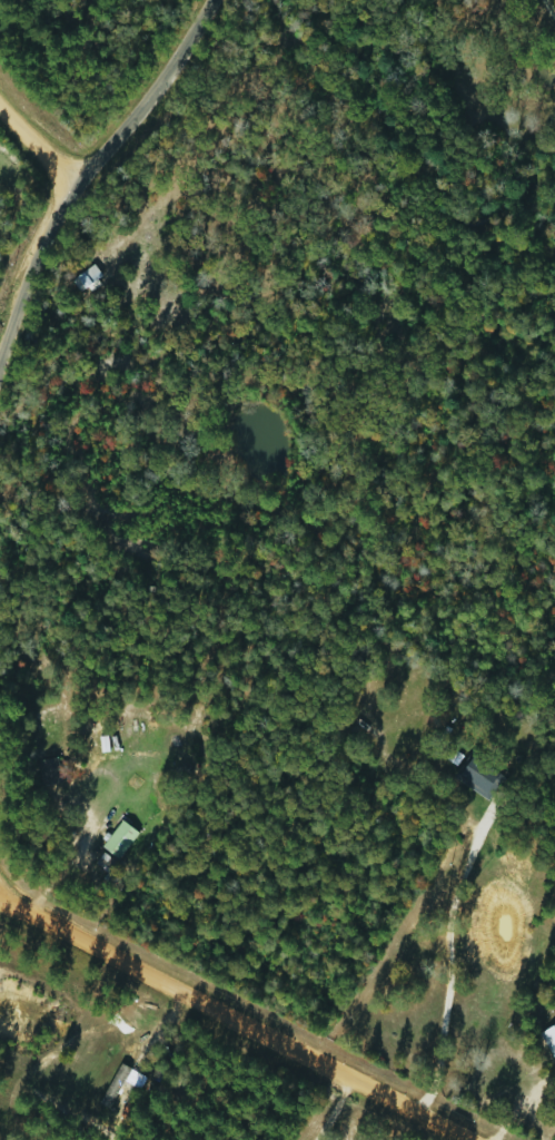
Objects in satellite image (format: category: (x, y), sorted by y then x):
road: (33, 140)
road: (75, 167)
building: (85, 278)
building: (47, 772)
building: (476, 777)
building: (117, 839)
road: (447, 966)
road: (228, 1018)
building: (116, 1084)

